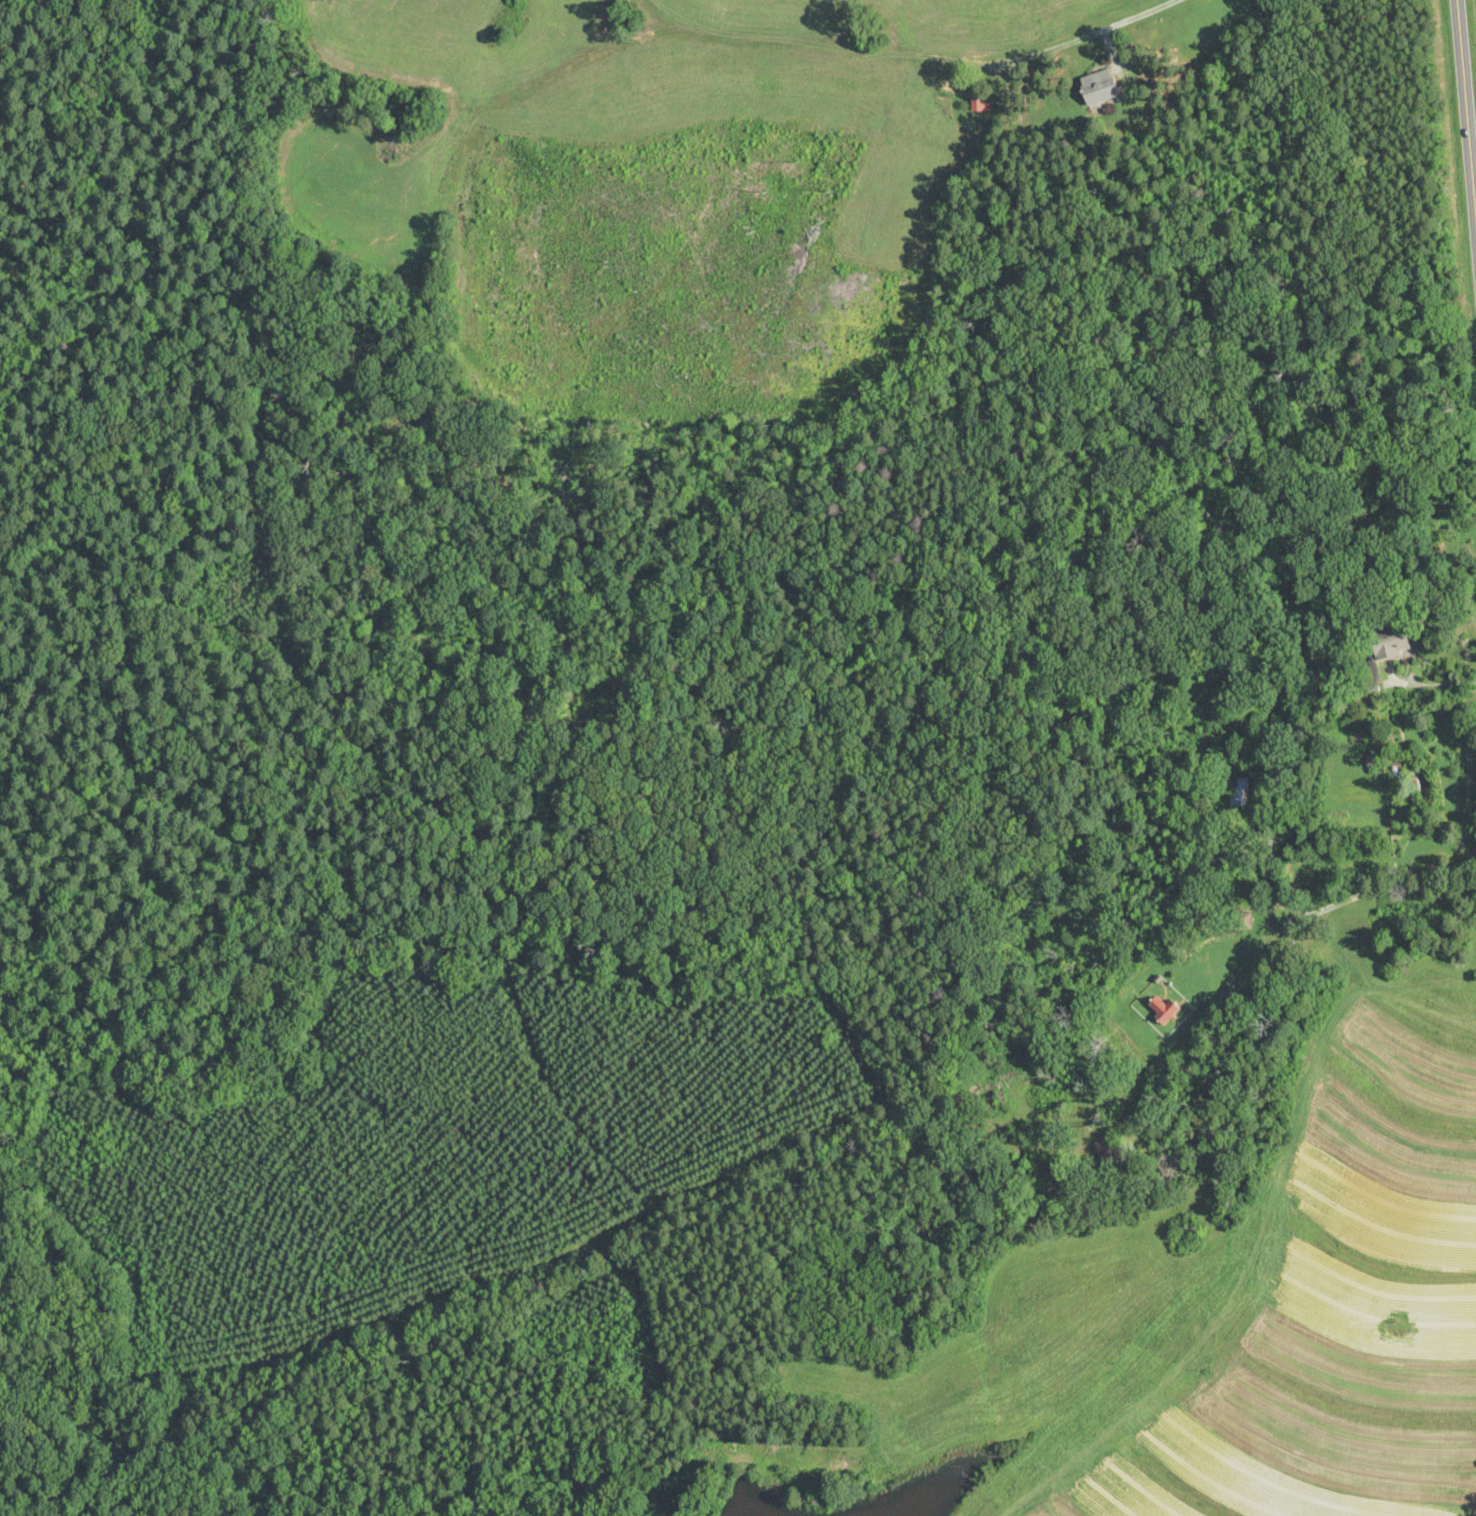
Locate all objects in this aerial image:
building: (1099, 87)
building: (982, 104)
road: (1465, 120)
building: (1390, 643)
building: (1430, 787)
building: (1240, 792)
building: (1108, 1146)

